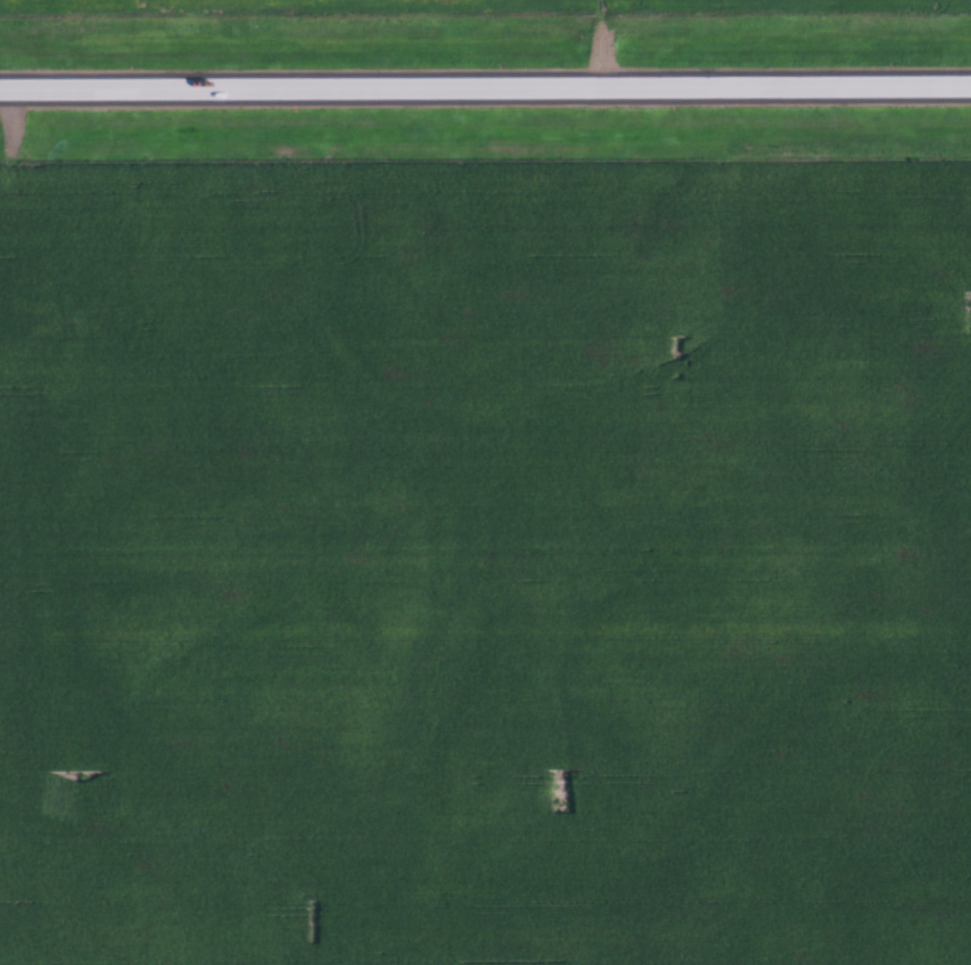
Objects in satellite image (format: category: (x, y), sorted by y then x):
road: (485, 87)

